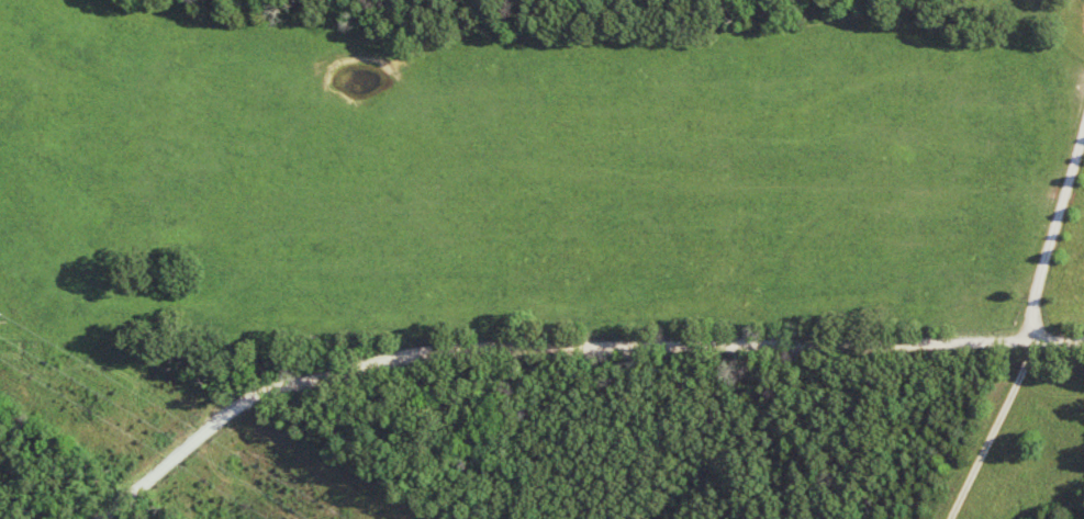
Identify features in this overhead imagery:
road: (1029, 334)
road: (571, 353)

